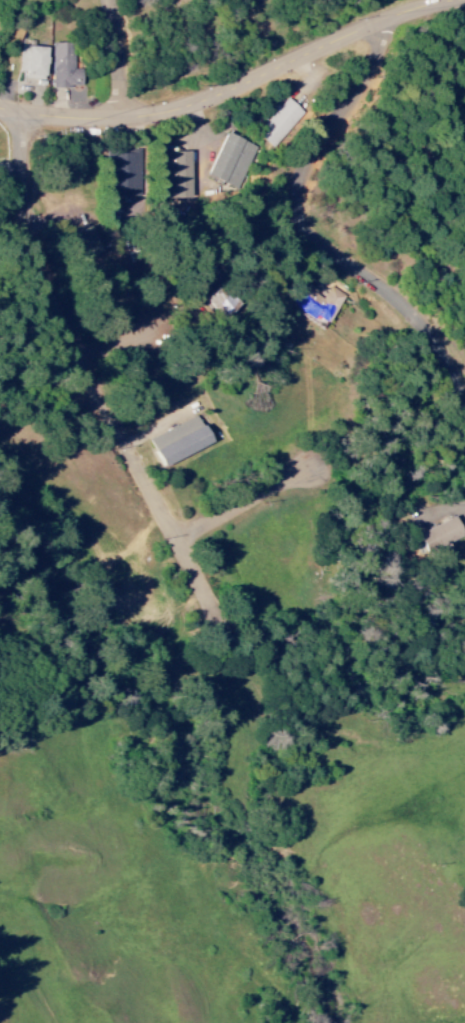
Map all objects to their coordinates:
road: (121, 59)
building: (31, 62)
building: (62, 68)
road: (236, 88)
building: (279, 122)
building: (231, 161)
building: (124, 173)
building: (176, 175)
road: (307, 225)
building: (88, 243)
building: (318, 302)
building: (223, 303)
road: (169, 321)
road: (95, 383)
road: (245, 501)
building: (438, 535)

